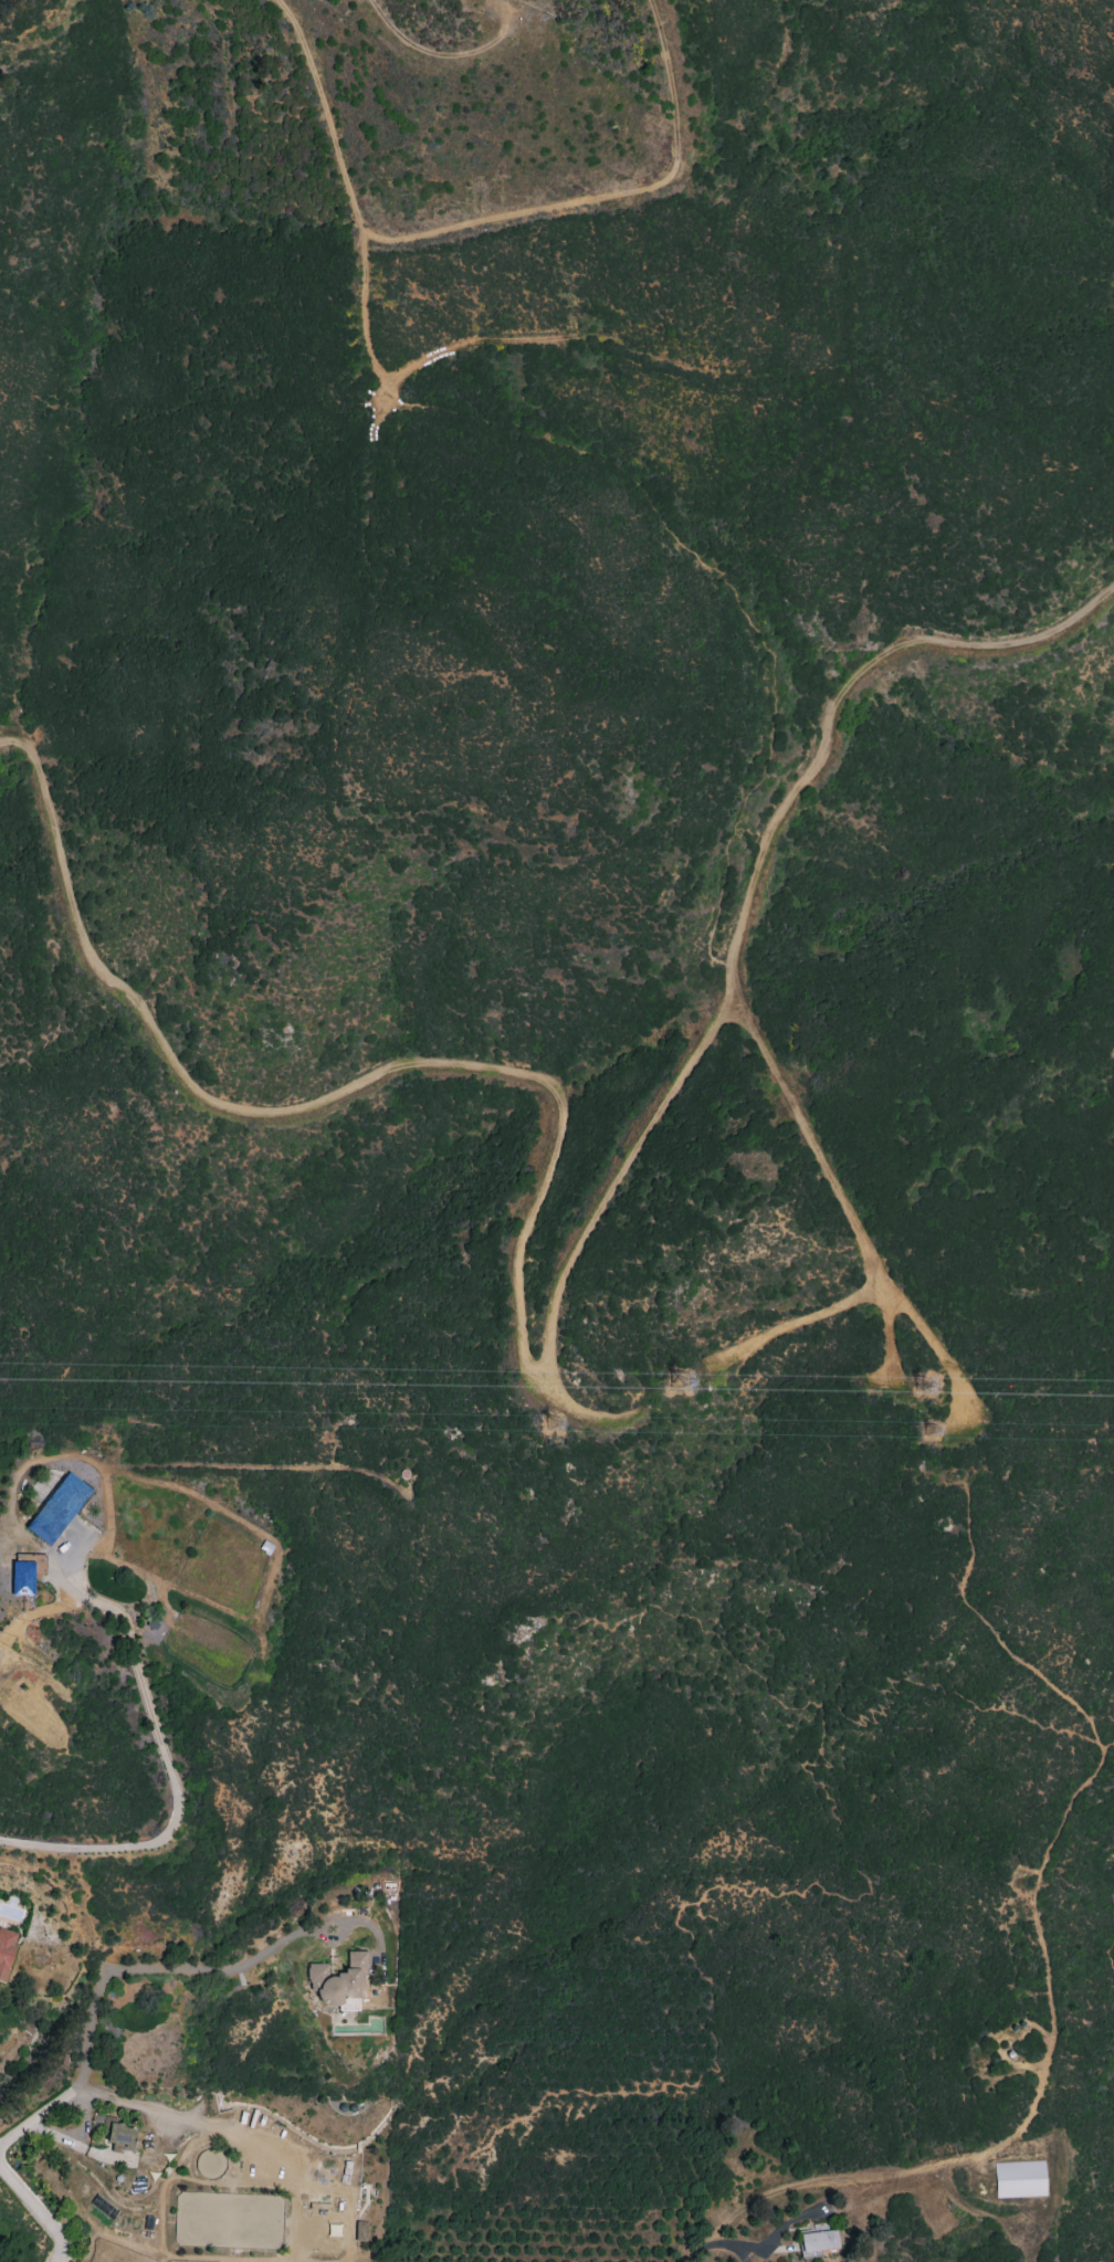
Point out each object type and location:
road: (349, 191)
road: (801, 365)
road: (731, 588)
road: (841, 1196)
road: (795, 1321)
road: (887, 1339)
road: (529, 1356)
power tower: (694, 1385)
power tower: (944, 1388)
road: (580, 1412)
power tower: (566, 1428)
power tower: (944, 1434)
building: (57, 1509)
building: (25, 1572)
road: (161, 1737)
road: (340, 1925)
road: (370, 1928)
building: (6, 1951)
road: (108, 1968)
building: (338, 1981)
road: (220, 2131)
building: (119, 2135)
road: (114, 2159)
building: (1019, 2179)
road: (38, 2212)
building: (360, 2231)
building: (817, 2241)
road: (704, 2256)

